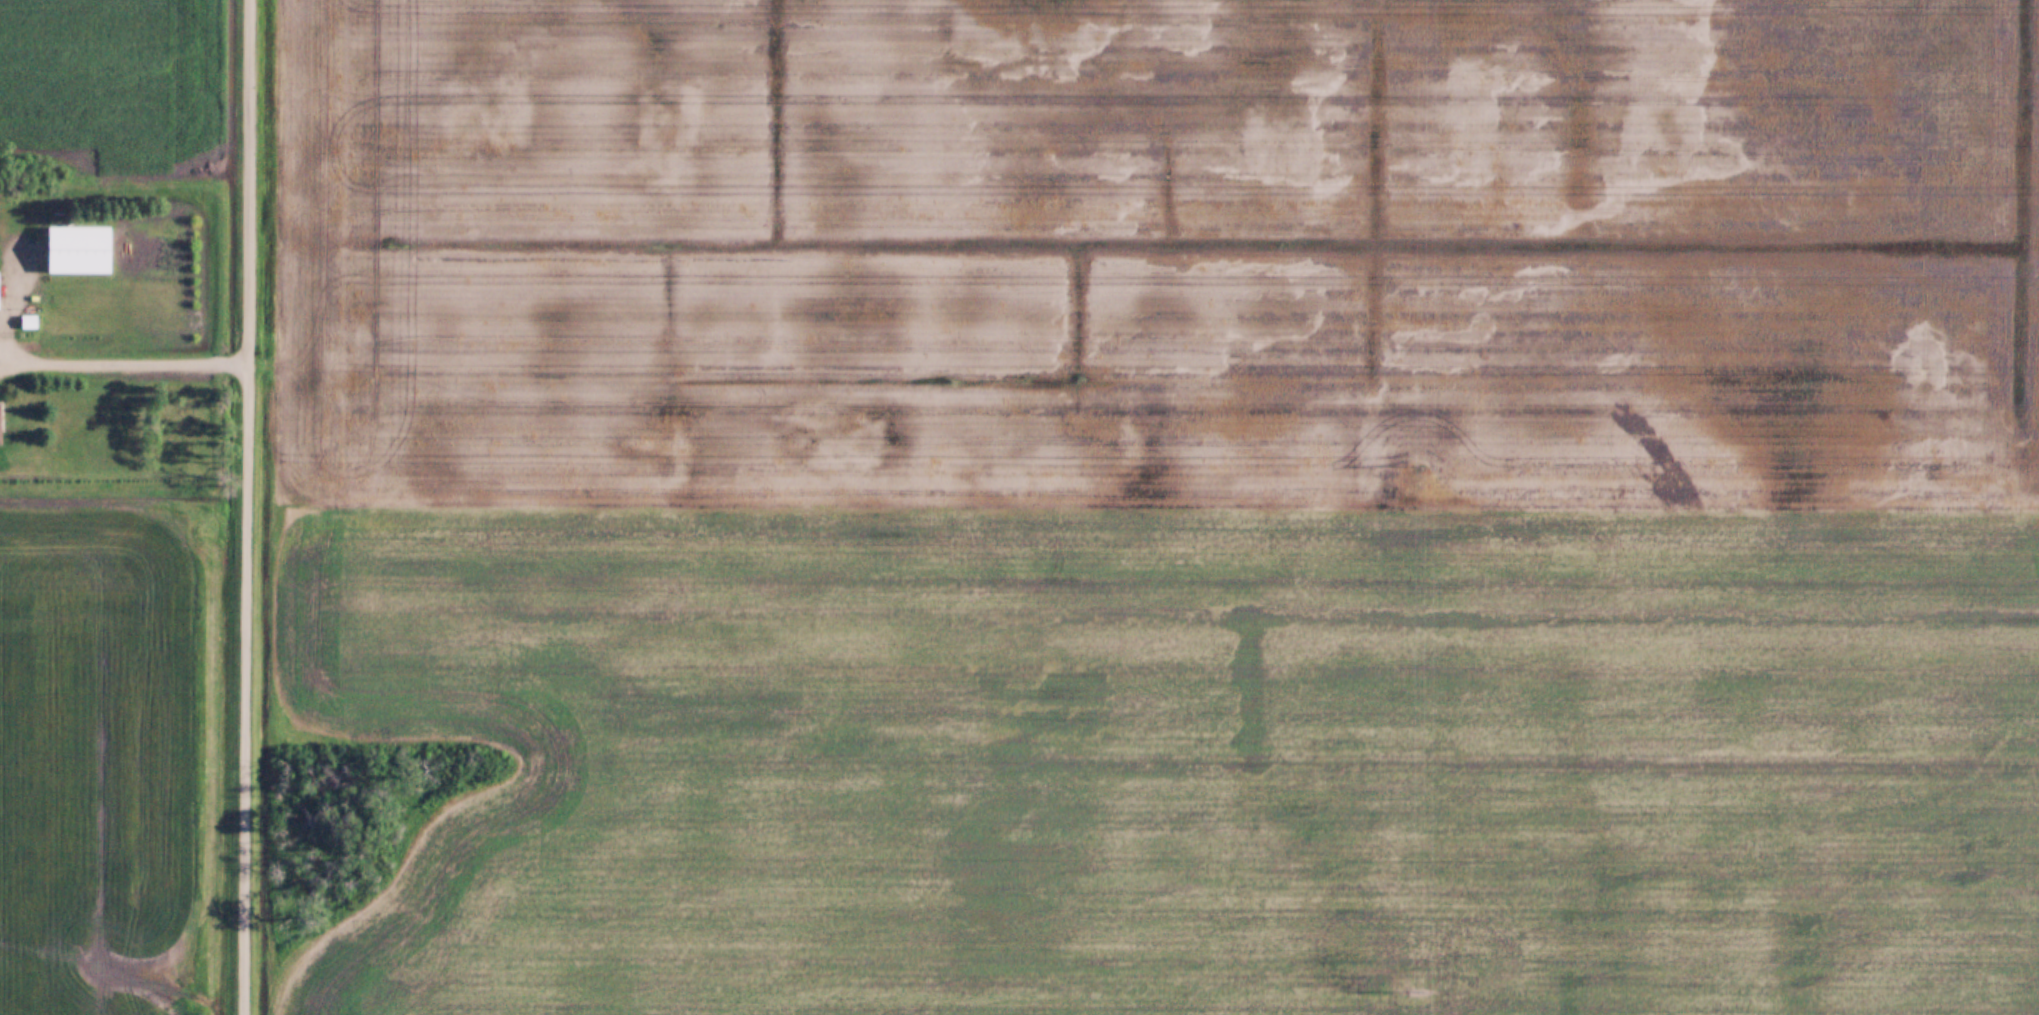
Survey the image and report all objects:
road: (250, 182)
building: (23, 319)
road: (7, 341)
road: (7, 361)
road: (130, 364)
power tower: (1407, 466)
road: (247, 690)
power tower: (1405, 994)

